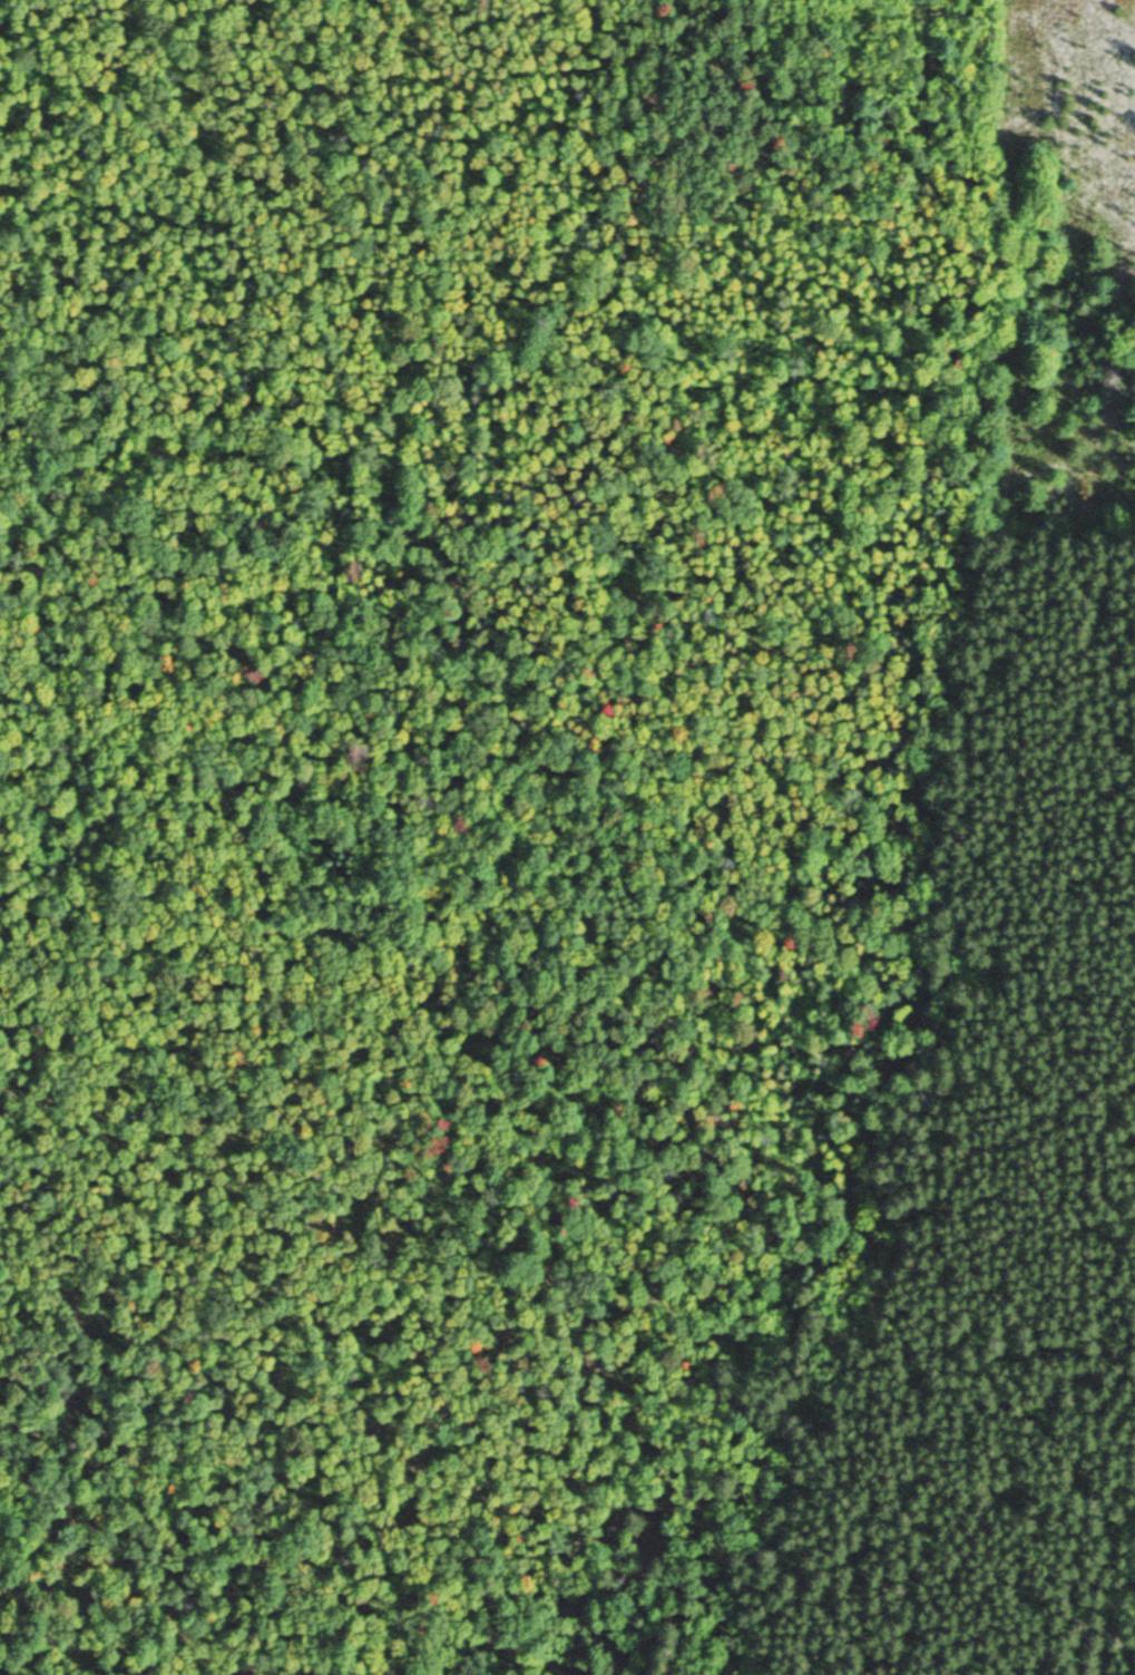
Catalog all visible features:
road: (287, 847)

